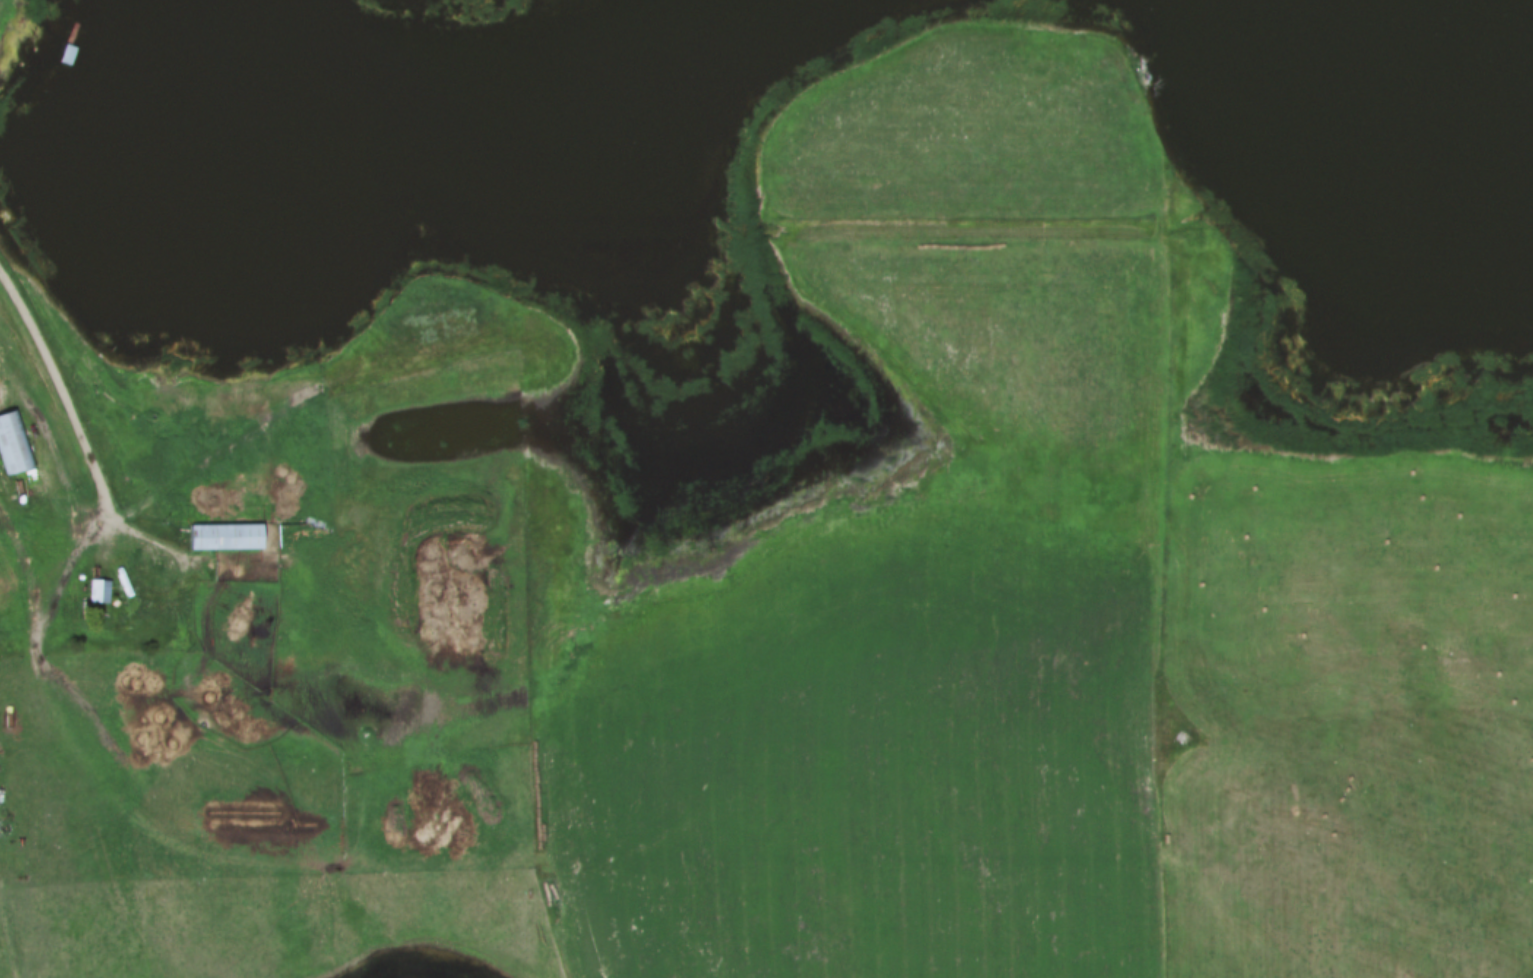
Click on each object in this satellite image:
road: (68, 392)
building: (14, 445)
building: (293, 529)
building: (225, 536)
road: (130, 574)
building: (153, 574)
building: (98, 592)

